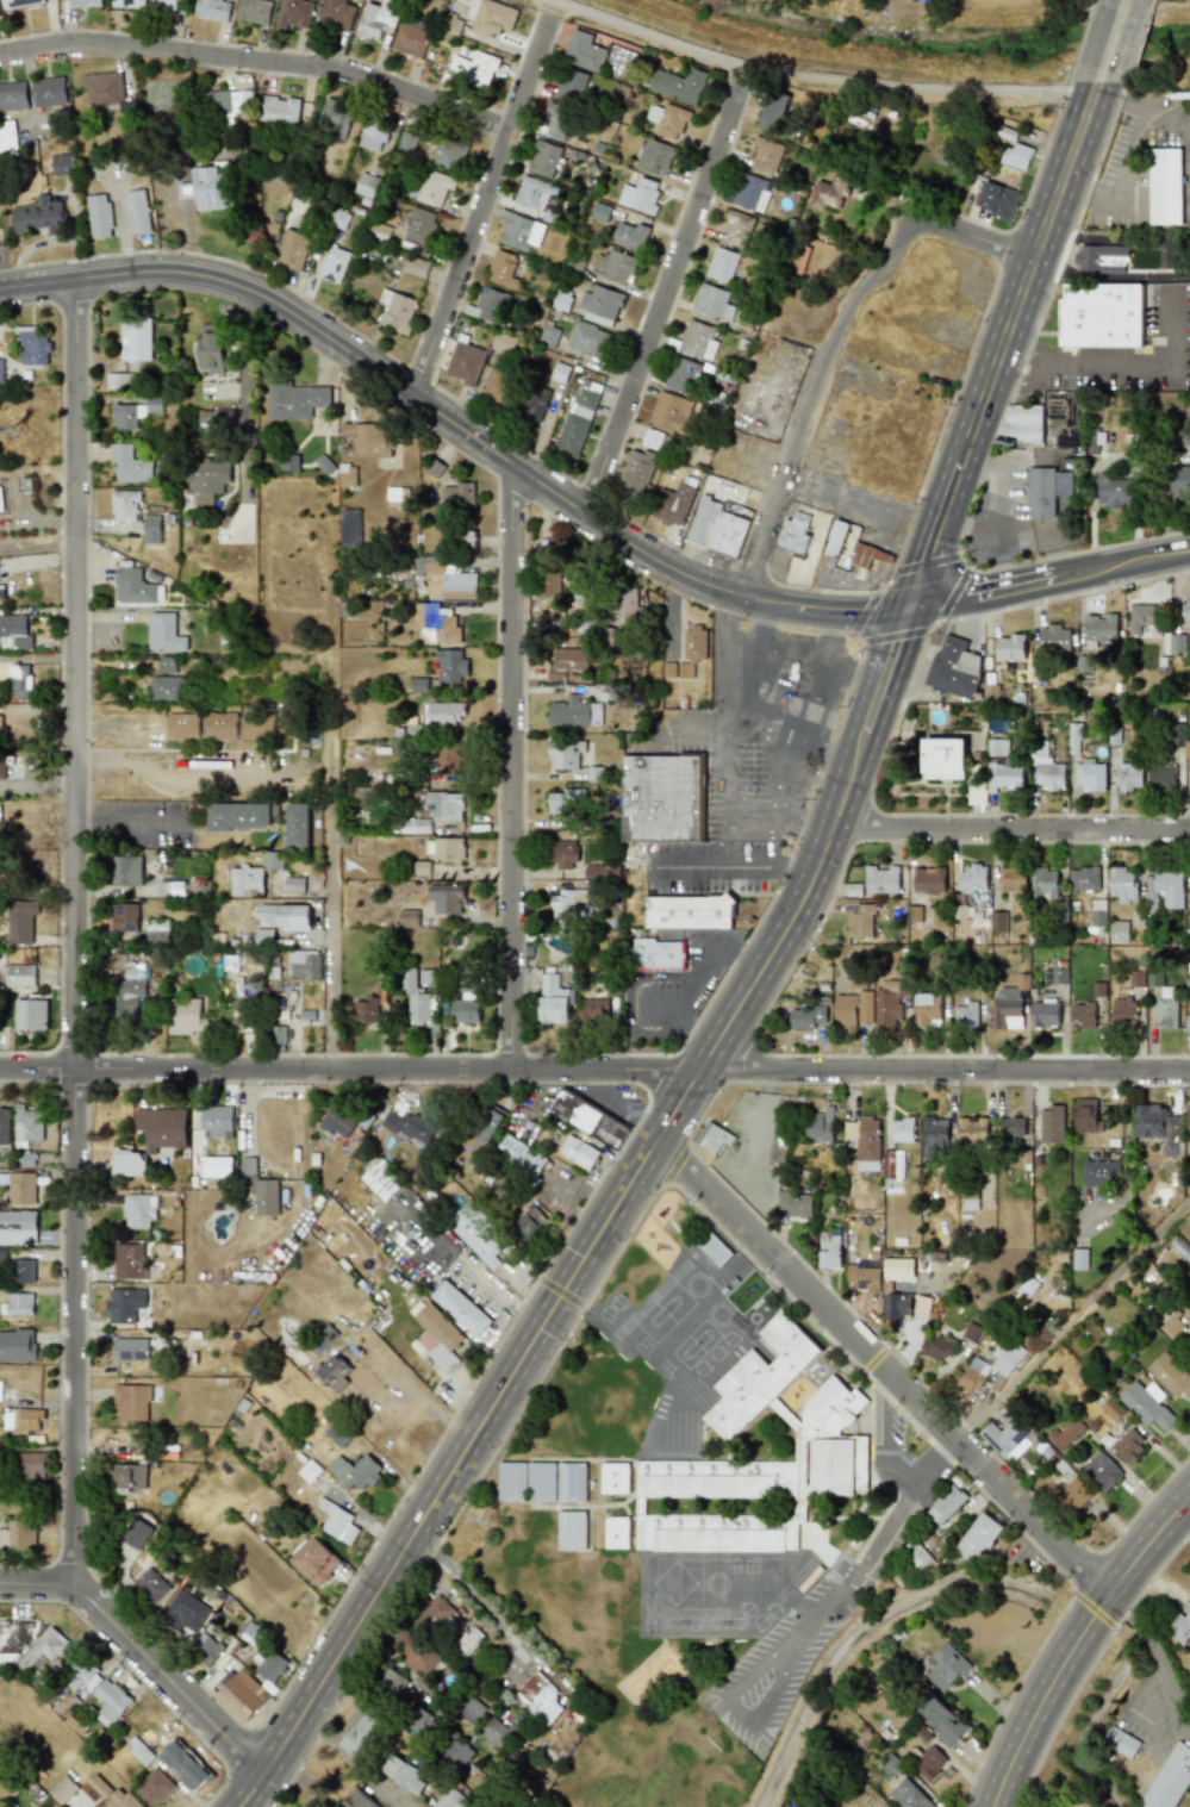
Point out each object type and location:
building: (19, 4)
building: (85, 4)
building: (127, 4)
building: (164, 4)
building: (213, 8)
building: (254, 11)
building: (294, 13)
building: (337, 14)
building: (378, 19)
building: (492, 19)
building: (451, 26)
building: (412, 37)
road: (1110, 40)
building: (584, 51)
road: (258, 58)
building: (473, 69)
road: (811, 77)
building: (678, 85)
building: (569, 86)
building: (104, 88)
building: (48, 92)
building: (12, 96)
building: (228, 104)
building: (278, 110)
road: (1148, 110)
building: (772, 112)
building: (858, 116)
building: (336, 119)
building: (667, 120)
building: (557, 121)
building: (373, 136)
building: (7, 138)
building: (406, 142)
building: (447, 155)
building: (766, 155)
building: (1017, 155)
building: (654, 157)
building: (543, 158)
building: (951, 160)
building: (63, 163)
road: (1128, 175)
building: (366, 185)
building: (1165, 186)
building: (208, 187)
building: (748, 192)
road: (1072, 192)
building: (534, 193)
building: (829, 193)
building: (640, 195)
road: (482, 198)
building: (996, 199)
building: (137, 211)
building: (602, 212)
building: (99, 216)
building: (39, 217)
building: (419, 225)
building: (740, 230)
building: (521, 233)
building: (630, 236)
building: (292, 249)
building: (1101, 258)
building: (334, 264)
building: (722, 264)
building: (615, 266)
building: (417, 267)
building: (503, 269)
road: (660, 300)
building: (712, 303)
building: (488, 305)
building: (600, 305)
building: (397, 311)
building: (1101, 316)
building: (587, 338)
building: (136, 339)
building: (698, 339)
building: (503, 343)
road: (999, 343)
road: (835, 344)
building: (32, 345)
building: (210, 348)
road: (1015, 350)
building: (465, 362)
road: (1142, 366)
building: (0, 370)
building: (684, 375)
building: (120, 381)
building: (496, 387)
building: (294, 400)
building: (532, 404)
road: (244, 410)
building: (135, 412)
building: (669, 412)
building: (216, 420)
road: (456, 424)
building: (1021, 424)
building: (577, 425)
building: (368, 438)
building: (1095, 442)
power tower: (32, 453)
road: (1013, 455)
road: (827, 462)
building: (129, 465)
building: (636, 472)
building: (206, 480)
building: (1180, 481)
building: (1046, 491)
building: (1113, 491)
building: (459, 494)
building: (672, 504)
building: (125, 505)
road: (858, 512)
building: (349, 528)
building: (716, 528)
building: (151, 529)
road: (996, 530)
building: (793, 532)
building: (839, 537)
building: (468, 541)
road: (39, 552)
building: (870, 556)
building: (443, 579)
building: (548, 580)
building: (577, 581)
road: (1048, 581)
building: (132, 586)
building: (1, 591)
building: (625, 607)
building: (1185, 610)
building: (1142, 617)
building: (437, 623)
building: (1099, 629)
building: (14, 633)
building: (164, 634)
building: (1054, 638)
building: (1176, 643)
building: (1010, 648)
building: (689, 654)
road: (723, 660)
building: (567, 662)
building: (168, 665)
building: (451, 667)
building: (954, 667)
building: (18, 681)
building: (167, 687)
building: (990, 692)
building: (574, 712)
building: (444, 714)
building: (0, 725)
building: (219, 725)
building: (257, 725)
building: (285, 725)
building: (182, 727)
road: (727, 728)
building: (1073, 739)
road: (831, 744)
building: (997, 747)
building: (1186, 749)
building: (565, 754)
building: (450, 758)
building: (943, 759)
road: (139, 766)
road: (512, 767)
building: (1046, 767)
building: (1, 768)
building: (1004, 777)
building: (1089, 777)
building: (1128, 777)
building: (1161, 778)
road: (778, 781)
road: (39, 785)
building: (976, 792)
road: (723, 797)
building: (662, 798)
building: (567, 802)
building: (443, 805)
building: (238, 816)
building: (297, 825)
road: (803, 825)
road: (1011, 829)
road: (130, 831)
road: (750, 833)
road: (331, 839)
building: (448, 848)
building: (562, 854)
building: (272, 860)
road: (733, 868)
building: (126, 871)
building: (602, 872)
road: (521, 878)
building: (1084, 878)
building: (972, 879)
building: (1011, 879)
building: (245, 880)
building: (881, 880)
building: (929, 880)
building: (1043, 881)
building: (1122, 884)
building: (293, 885)
building: (1165, 887)
building: (447, 898)
building: (569, 904)
building: (689, 911)
building: (1098, 912)
building: (284, 916)
building: (124, 917)
building: (407, 918)
building: (20, 921)
building: (997, 921)
building: (861, 922)
building: (157, 930)
road: (77, 931)
building: (1117, 931)
road: (723, 936)
road: (748, 947)
building: (658, 954)
road: (691, 955)
building: (304, 964)
building: (17, 976)
building: (1055, 976)
building: (425, 977)
building: (1153, 978)
building: (1135, 979)
building: (858, 980)
building: (466, 984)
power tower: (255, 986)
building: (1188, 986)
building: (235, 991)
road: (628, 991)
building: (127, 993)
building: (554, 999)
building: (416, 1001)
road: (687, 1001)
building: (1009, 1004)
building: (886, 1007)
building: (1166, 1007)
building: (593, 1009)
building: (365, 1010)
building: (845, 1010)
building: (927, 1010)
building: (1123, 1010)
building: (465, 1011)
building: (1045, 1014)
building: (30, 1015)
building: (966, 1015)
building: (1082, 1015)
building: (183, 1016)
building: (806, 1017)
road: (689, 1033)
building: (276, 1038)
road: (594, 1071)
road: (617, 1107)
building: (1086, 1116)
building: (1188, 1116)
building: (590, 1119)
building: (217, 1120)
building: (488, 1122)
building: (27, 1123)
building: (338, 1123)
building: (818, 1124)
building: (1051, 1124)
building: (4, 1126)
building: (1157, 1126)
building: (411, 1127)
building: (1011, 1127)
building: (161, 1128)
building: (903, 1129)
building: (972, 1130)
building: (934, 1136)
building: (712, 1138)
building: (864, 1141)
building: (579, 1152)
building: (521, 1155)
building: (129, 1163)
building: (892, 1165)
building: (218, 1167)
building: (1101, 1172)
building: (381, 1182)
building: (21, 1189)
building: (258, 1189)
building: (796, 1204)
road: (697, 1208)
building: (138, 1211)
road: (602, 1222)
building: (529, 1223)
building: (18, 1228)
building: (478, 1234)
building: (829, 1248)
building: (2, 1255)
building: (1079, 1259)
building: (129, 1261)
building: (898, 1270)
building: (24, 1271)
road: (480, 1277)
building: (864, 1277)
building: (1027, 1288)
building: (18, 1304)
building: (124, 1304)
building: (896, 1306)
building: (922, 1306)
building: (461, 1308)
building: (1172, 1326)
building: (437, 1336)
building: (322, 1339)
building: (17, 1346)
building: (937, 1347)
building: (130, 1348)
road: (878, 1365)
building: (989, 1366)
building: (335, 1372)
building: (1171, 1375)
building: (0, 1387)
building: (132, 1402)
building: (1147, 1404)
building: (1111, 1409)
building: (21, 1419)
building: (818, 1431)
building: (338, 1434)
building: (1065, 1434)
building: (1008, 1435)
building: (1128, 1445)
road: (954, 1454)
building: (30, 1464)
building: (1101, 1471)
building: (354, 1472)
building: (126, 1476)
building: (615, 1478)
building: (512, 1482)
building: (542, 1482)
building: (572, 1482)
building: (1074, 1494)
road: (1185, 1502)
building: (946, 1504)
building: (337, 1522)
power tower: (493, 1526)
building: (572, 1531)
building: (617, 1532)
building: (136, 1533)
building: (18, 1535)
building: (978, 1538)
building: (916, 1556)
building: (316, 1560)
building: (150, 1585)
road: (479, 1601)
building: (185, 1612)
building: (434, 1614)
building: (1179, 1628)
building: (251, 1633)
road: (1071, 1637)
building: (12, 1639)
building: (469, 1640)
building: (44, 1647)
building: (206, 1649)
building: (415, 1651)
road: (1153, 1651)
road: (142, 1653)
road: (770, 1659)
building: (268, 1662)
building: (946, 1666)
building: (82, 1677)
building: (392, 1680)
building: (242, 1694)
building: (538, 1699)
building: (110, 1702)
building: (471, 1711)
road: (742, 1712)
building: (940, 1719)
road: (1159, 1719)
building: (362, 1731)
building: (497, 1732)
building: (1121, 1743)
building: (139, 1751)
building: (457, 1752)
road: (350, 1761)
building: (930, 1763)
building: (403, 1774)
road: (300, 1778)
building: (1170, 1778)
building: (154, 1787)
building: (62, 1789)
building: (112, 1794)
building: (909, 1795)
building: (357, 1800)
building: (450, 1800)
building: (0, 1806)

